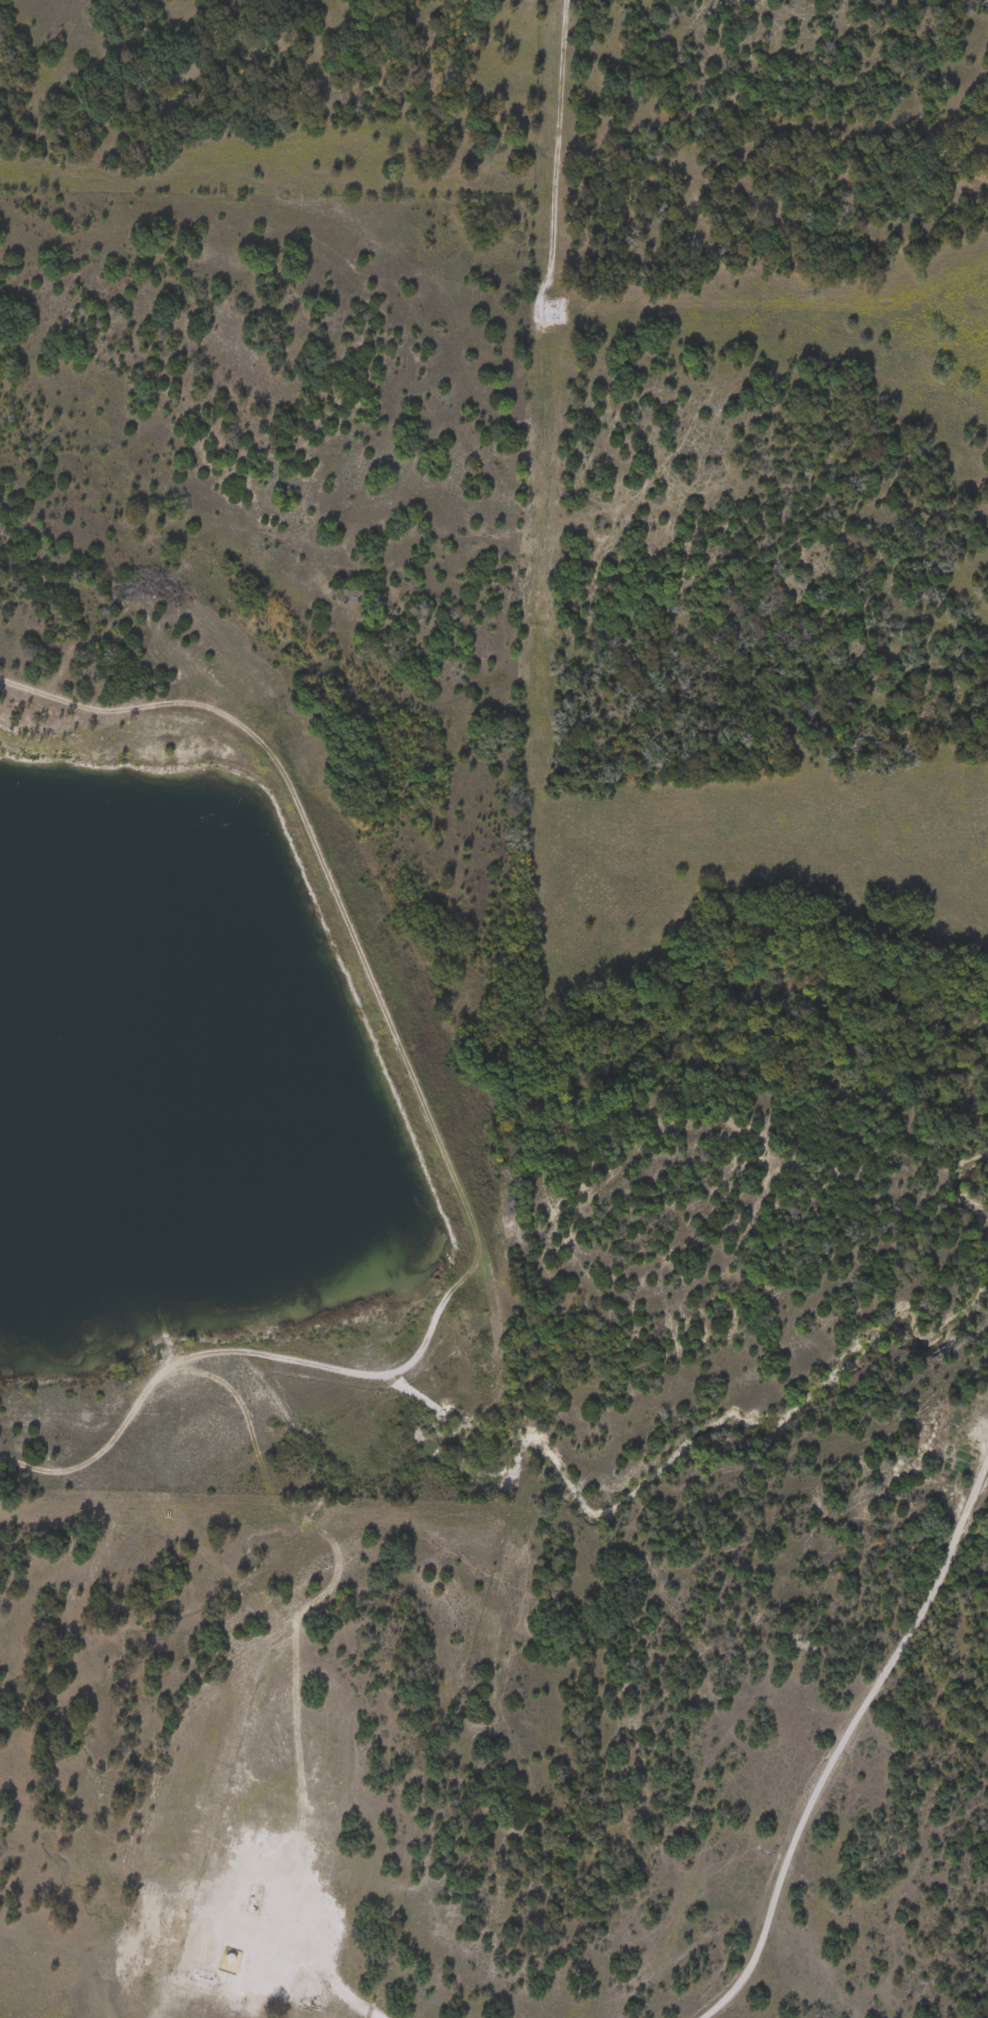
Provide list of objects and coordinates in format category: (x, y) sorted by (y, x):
road: (829, 1737)
road: (342, 1991)

